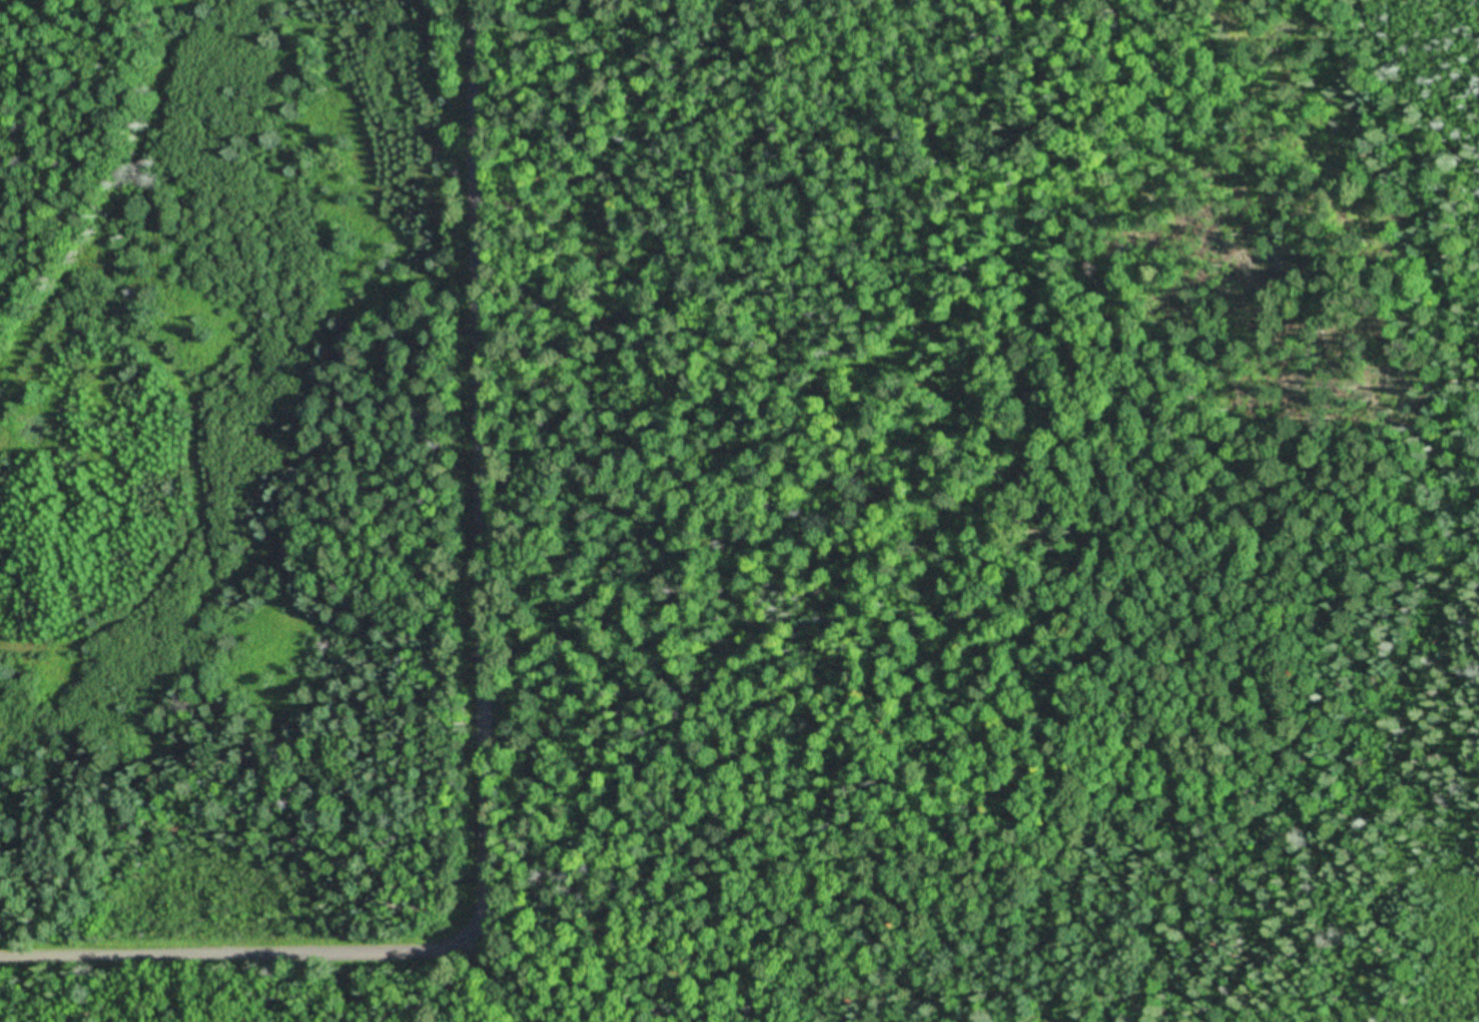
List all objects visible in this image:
road: (493, 715)

